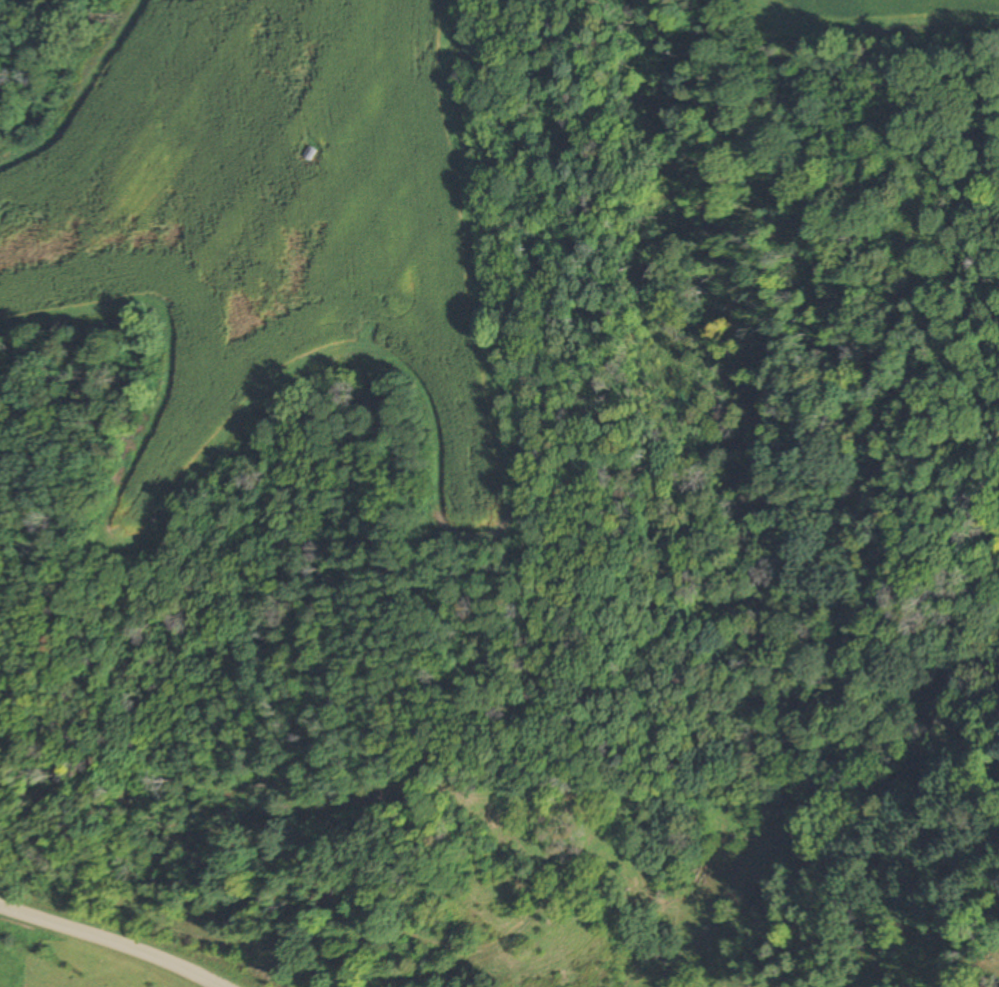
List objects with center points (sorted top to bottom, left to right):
road: (111, 941)

